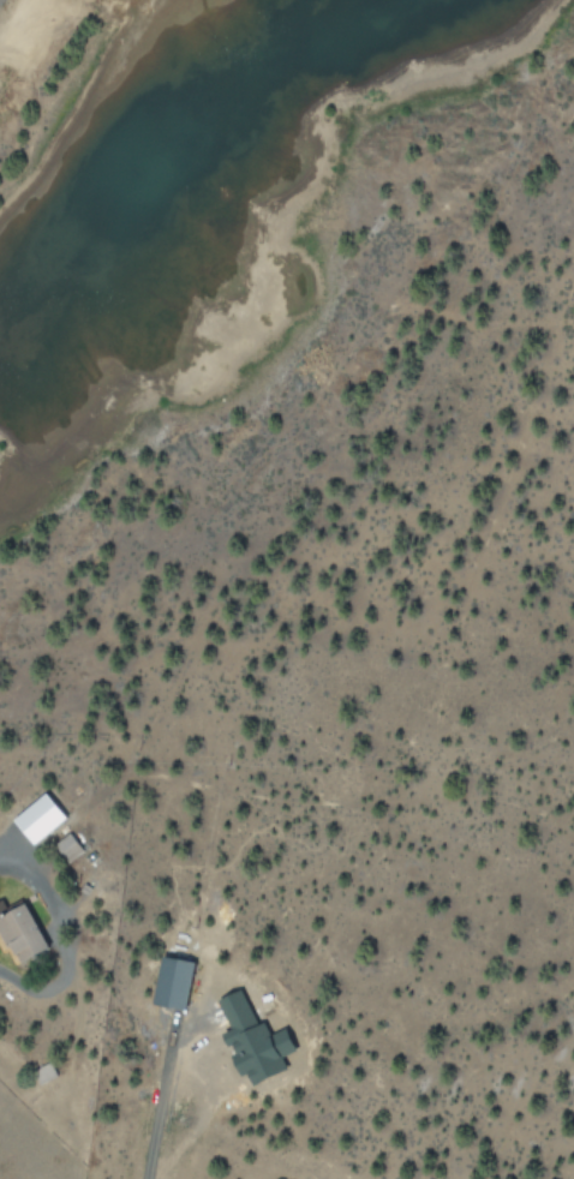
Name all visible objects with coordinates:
building: (43, 818)
building: (23, 932)
building: (177, 982)
building: (258, 1041)

